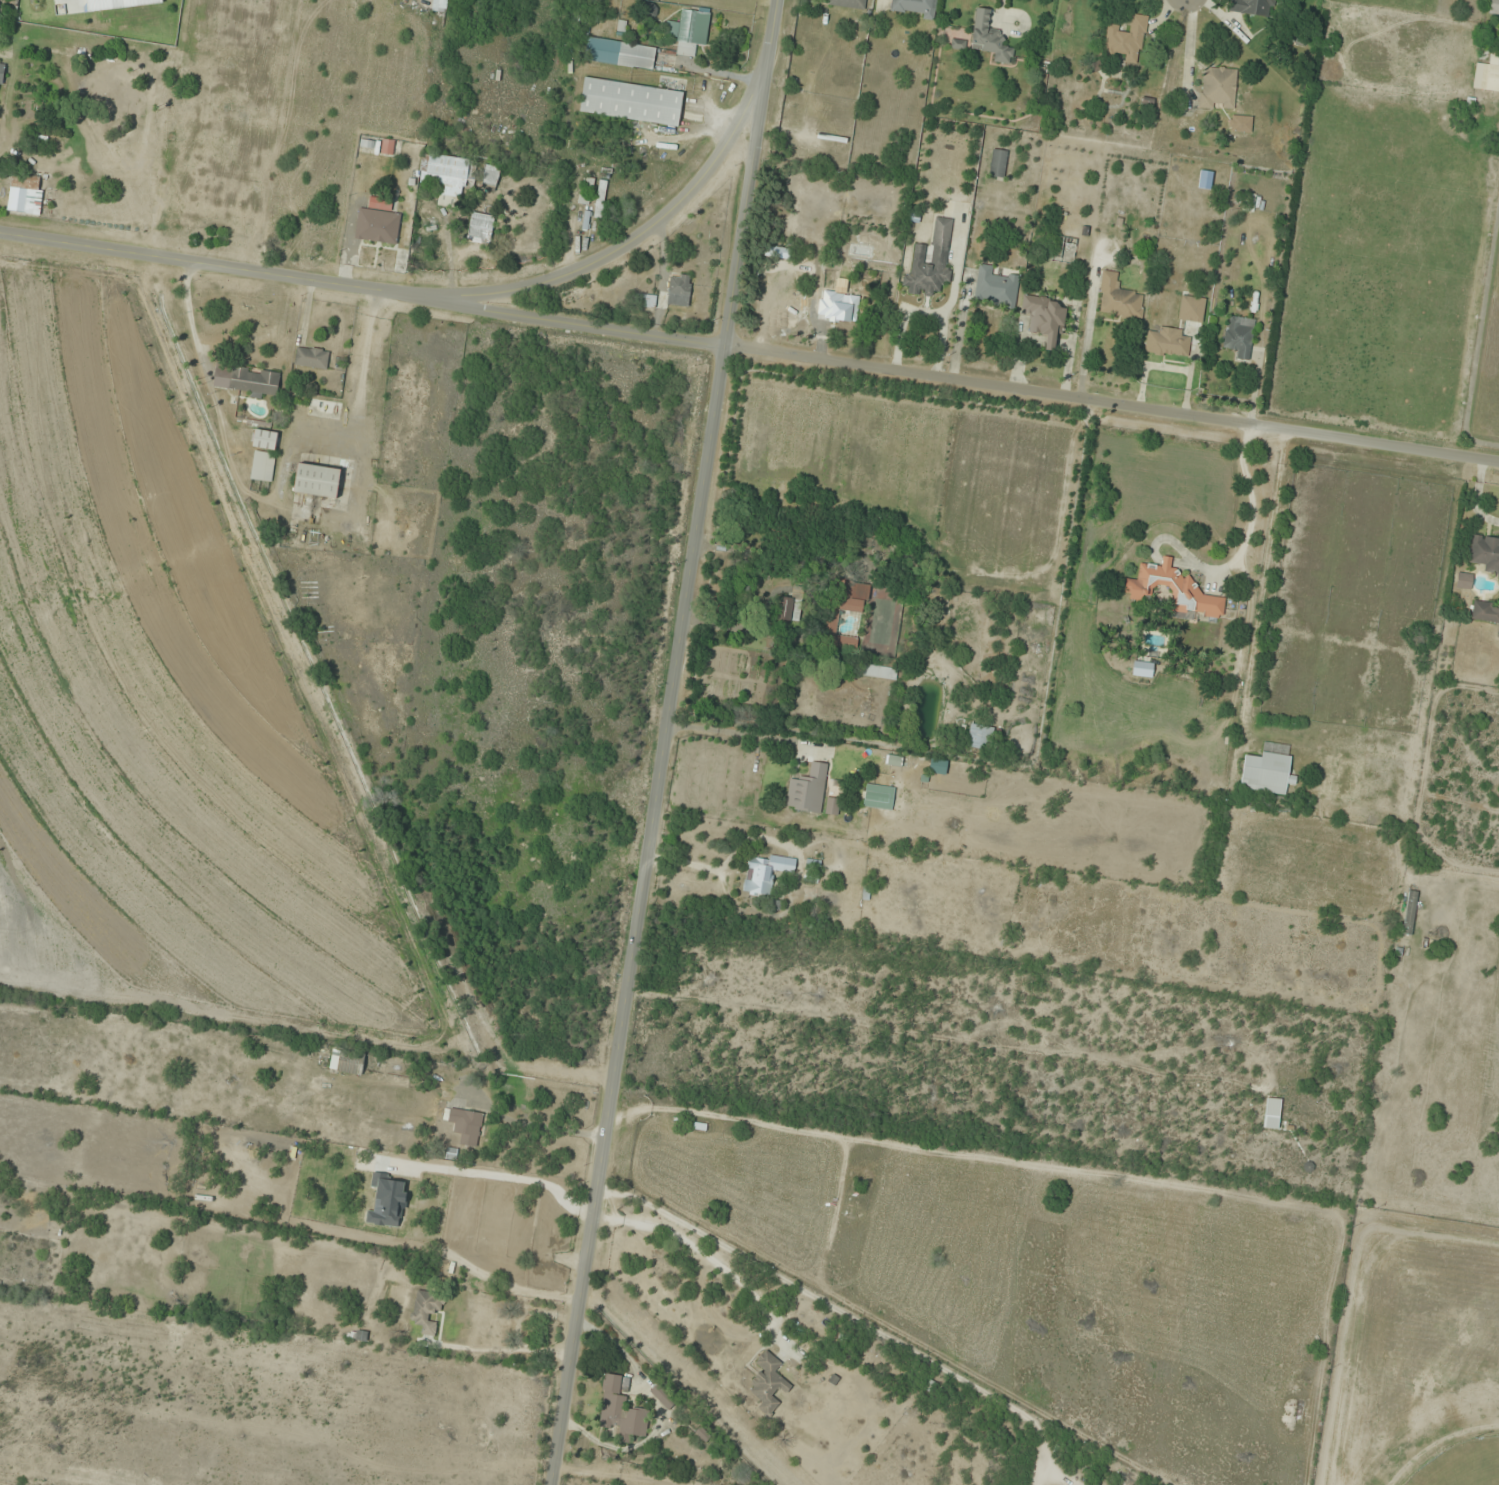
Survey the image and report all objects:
building: (1248, 7)
building: (1494, 7)
building: (914, 8)
building: (691, 32)
building: (989, 38)
building: (1127, 40)
building: (620, 54)
building: (2, 74)
building: (1487, 76)
building: (1218, 89)
building: (631, 103)
building: (120, 104)
building: (998, 164)
building: (448, 174)
building: (491, 178)
building: (25, 195)
building: (600, 200)
building: (377, 226)
building: (480, 228)
road: (633, 242)
building: (931, 262)
building: (845, 268)
building: (995, 287)
road: (361, 289)
building: (679, 290)
building: (1118, 299)
building: (844, 309)
building: (1192, 309)
building: (1045, 319)
building: (1240, 337)
building: (1167, 343)
building: (312, 358)
building: (247, 381)
road: (1110, 404)
building: (325, 405)
building: (264, 440)
building: (263, 467)
building: (317, 481)
building: (1485, 552)
building: (1464, 580)
building: (1179, 587)
building: (852, 597)
building: (785, 609)
building: (1485, 612)
building: (879, 673)
building: (979, 738)
road: (662, 742)
building: (937, 767)
building: (1267, 770)
building: (807, 790)
building: (879, 797)
building: (832, 806)
building: (812, 871)
building: (765, 874)
building: (1410, 913)
building: (347, 1062)
road: (735, 1083)
building: (1272, 1115)
building: (466, 1127)
building: (418, 1174)
building: (503, 1265)
building: (427, 1311)
building: (768, 1383)
building: (929, 1386)
building: (620, 1409)
park: (1463, 1464)

